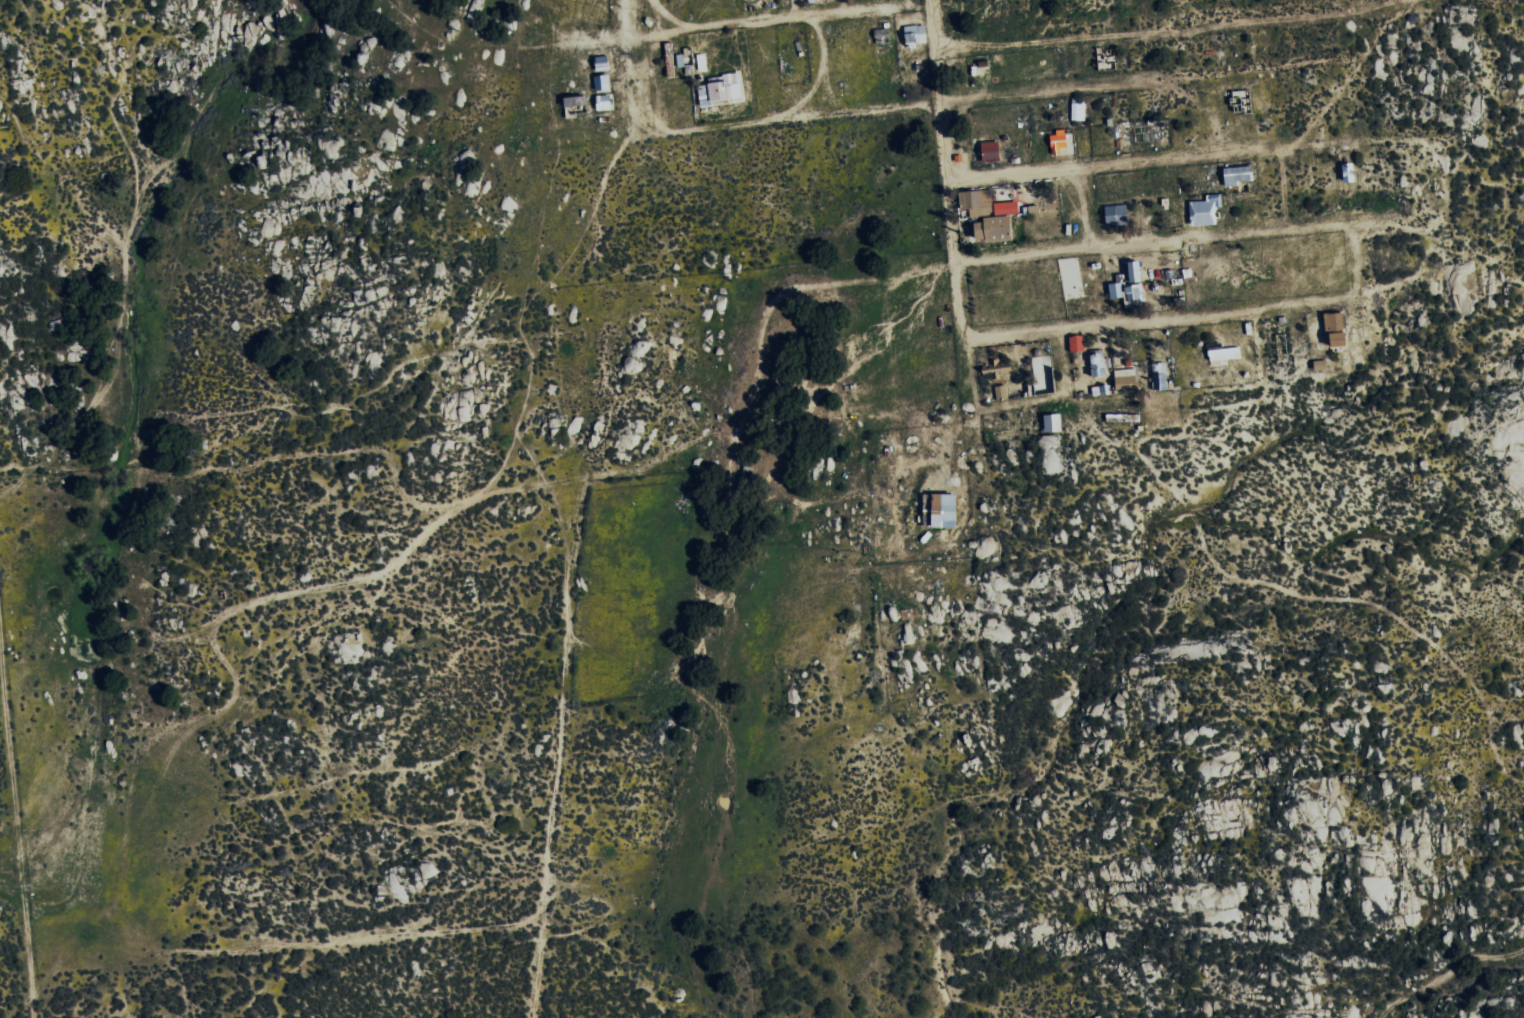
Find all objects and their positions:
road: (768, 21)
building: (916, 34)
building: (602, 63)
building: (702, 63)
building: (602, 83)
building: (720, 89)
building: (604, 102)
building: (576, 106)
building: (1078, 110)
road: (716, 126)
building: (1058, 142)
building: (990, 151)
road: (1153, 162)
building: (1239, 175)
road: (1282, 191)
building: (975, 203)
building: (1205, 211)
building: (1116, 215)
road: (950, 220)
building: (998, 223)
road: (1217, 238)
road: (1060, 251)
building: (1135, 272)
building: (1127, 293)
road: (1192, 316)
building: (1336, 328)
building: (1077, 343)
building: (1100, 364)
building: (1320, 364)
building: (1160, 376)
building: (1125, 378)
building: (1100, 390)
building: (1001, 392)
building: (1053, 423)
building: (940, 510)

